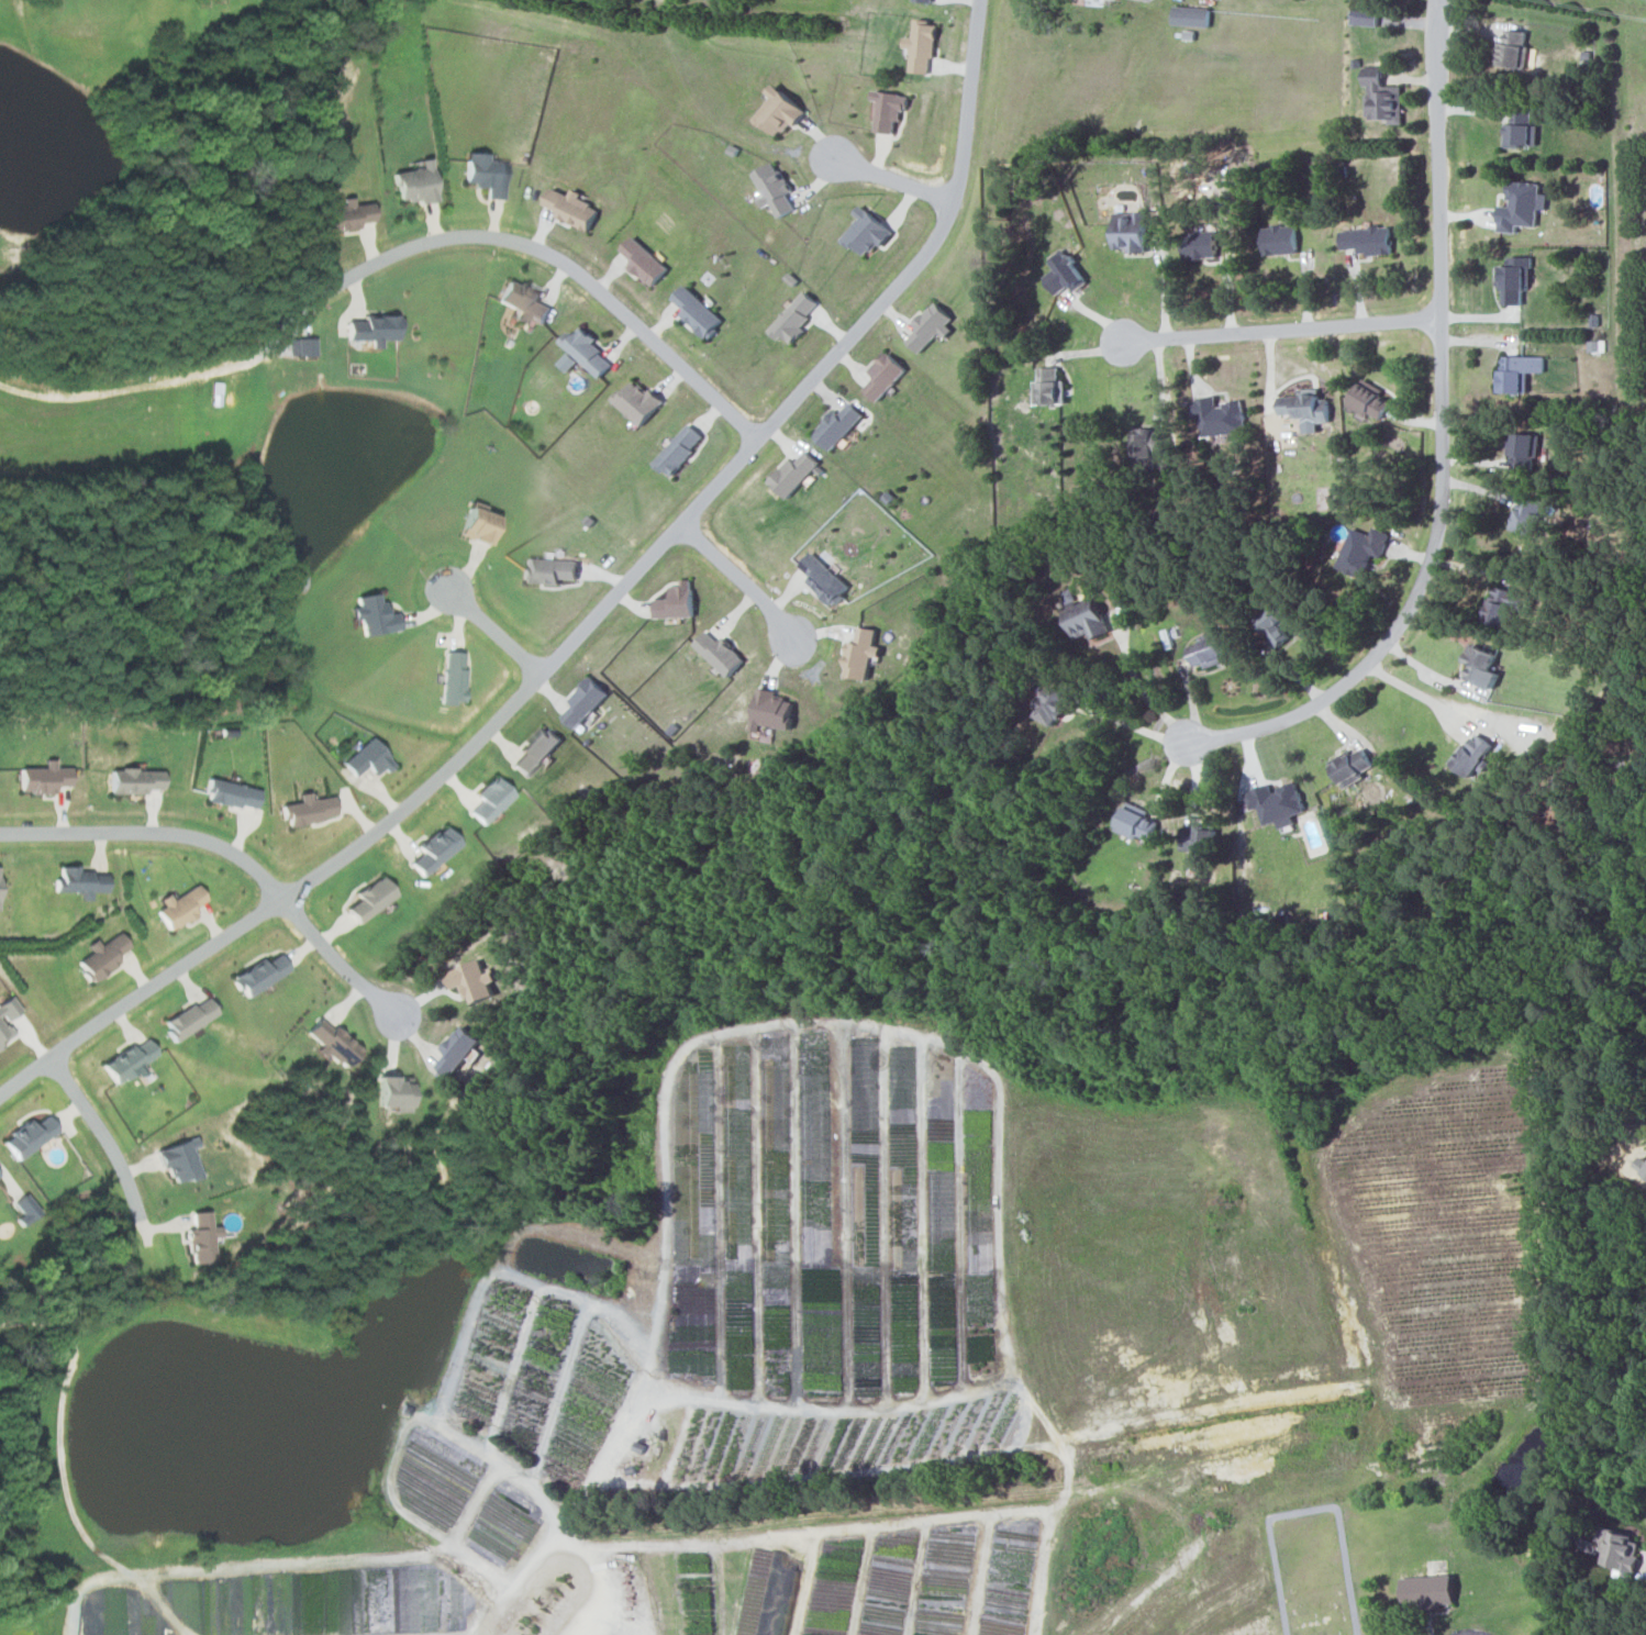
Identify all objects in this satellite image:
building: (923, 0)
building: (1190, 16)
building: (1364, 16)
building: (921, 45)
building: (1512, 49)
building: (1382, 97)
building: (888, 110)
building: (778, 112)
building: (1520, 129)
building: (485, 175)
building: (414, 183)
road: (891, 183)
building: (772, 189)
building: (1519, 207)
building: (569, 208)
building: (343, 215)
building: (1128, 231)
building: (865, 233)
building: (1279, 240)
building: (1367, 241)
building: (1199, 245)
building: (642, 260)
road: (561, 265)
building: (1063, 272)
building: (1514, 279)
road: (1164, 288)
building: (522, 301)
building: (694, 311)
building: (792, 319)
building: (928, 326)
building: (374, 330)
road: (1280, 330)
building: (301, 347)
building: (585, 352)
building: (567, 363)
building: (1517, 372)
building: (882, 376)
building: (1047, 387)
building: (1368, 400)
building: (635, 401)
building: (1304, 410)
building: (1217, 416)
building: (835, 426)
road: (1441, 442)
building: (1147, 447)
building: (677, 451)
building: (1523, 451)
building: (792, 474)
building: (1526, 515)
building: (476, 524)
building: (1361, 550)
building: (548, 571)
building: (822, 579)
road: (737, 581)
building: (675, 602)
building: (1503, 607)
building: (372, 615)
building: (1085, 620)
road: (589, 621)
building: (1272, 625)
road: (493, 631)
building: (1210, 650)
building: (718, 653)
building: (859, 654)
building: (1480, 667)
building: (453, 678)
road: (1147, 680)
road: (1419, 696)
building: (582, 702)
building: (1050, 705)
building: (770, 711)
road: (1136, 727)
building: (534, 753)
building: (1471, 755)
building: (366, 759)
building: (1350, 768)
building: (42, 779)
building: (132, 781)
building: (231, 796)
building: (489, 801)
building: (1276, 804)
building: (308, 811)
building: (1135, 825)
road: (152, 835)
building: (1199, 844)
building: (433, 852)
building: (78, 882)
building: (370, 898)
building: (178, 907)
building: (101, 955)
road: (335, 959)
building: (258, 974)
building: (471, 980)
building: (7, 1017)
building: (189, 1017)
building: (331, 1042)
building: (456, 1048)
building: (127, 1060)
building: (392, 1091)
building: (27, 1136)
road: (102, 1138)
building: (178, 1159)
building: (23, 1208)
building: (201, 1237)
road: (816, 1522)
building: (1619, 1548)
road: (594, 1590)
building: (1426, 1591)
road: (1470, 1631)

